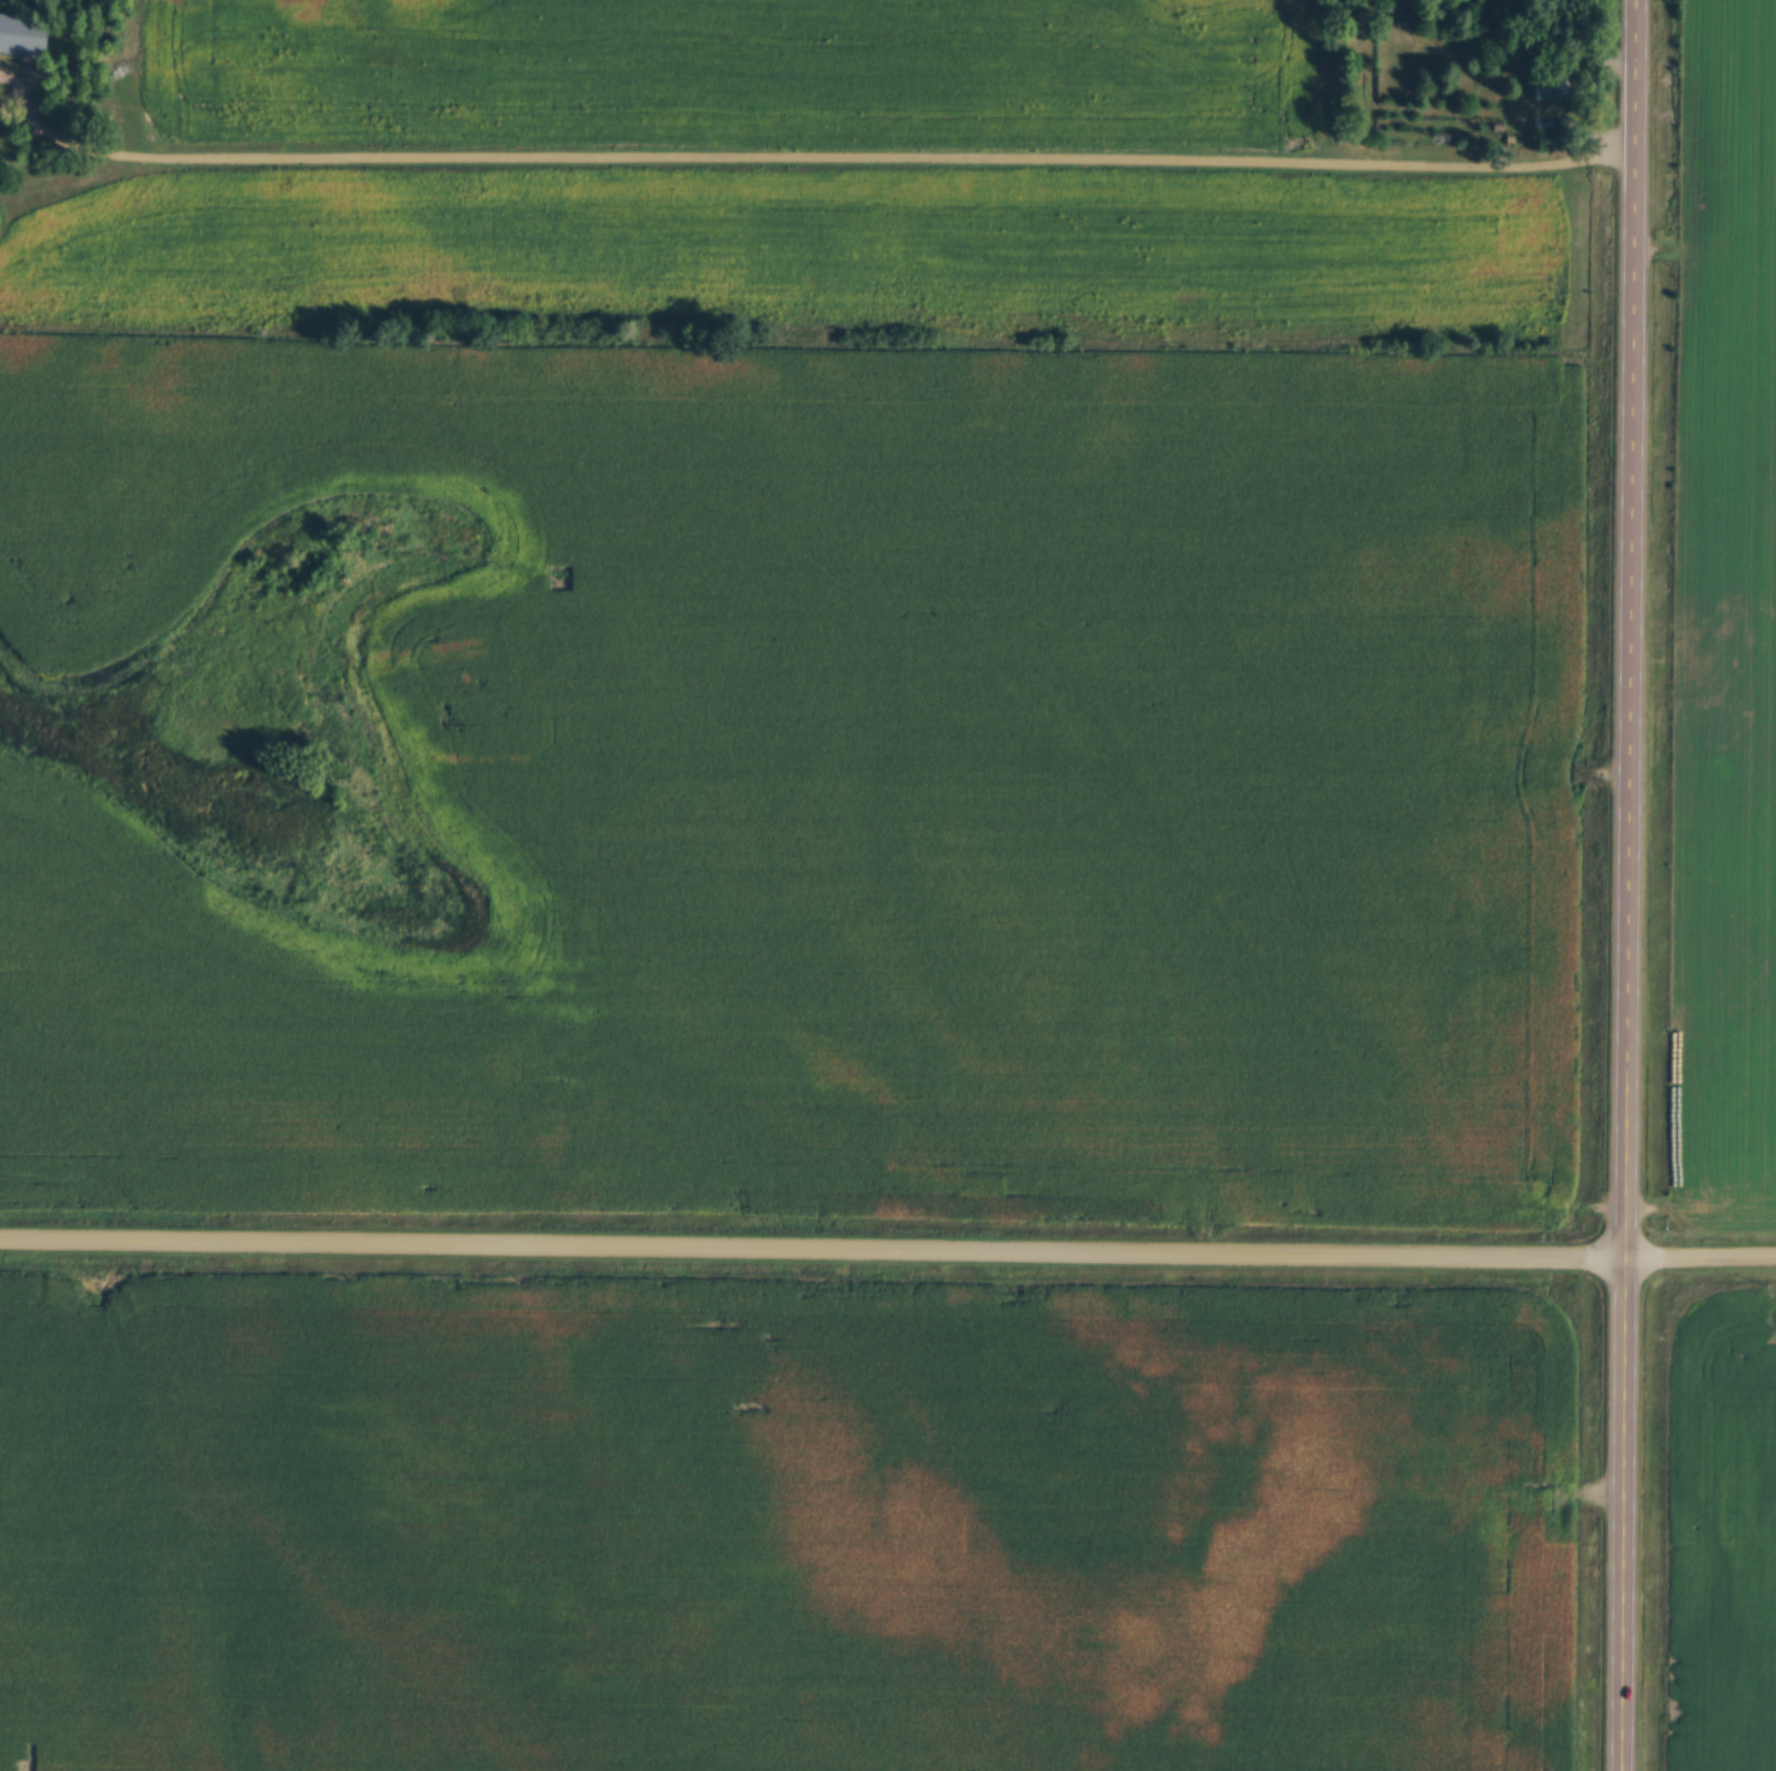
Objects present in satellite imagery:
building: (1559, 91)
road: (16, 105)
road: (821, 159)
road: (1627, 884)
road: (888, 1249)

